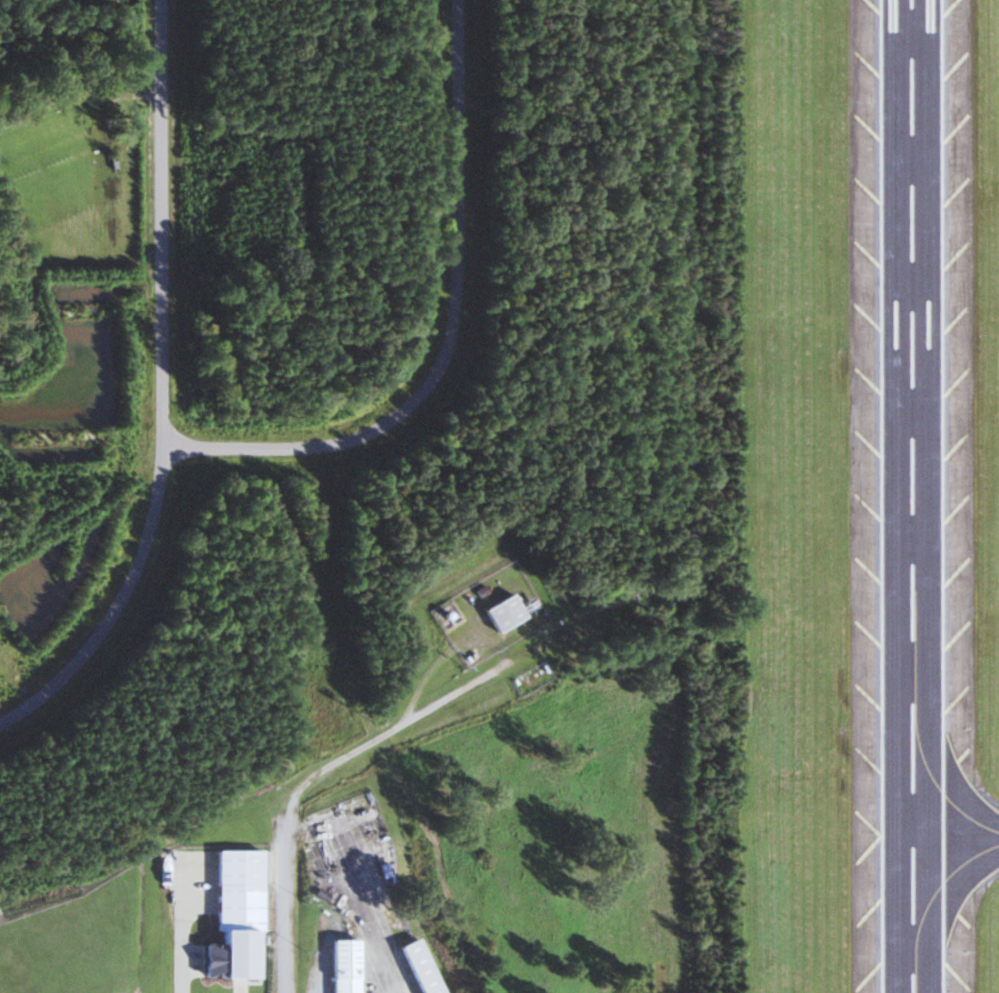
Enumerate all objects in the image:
airport runway: (911, 496)
airport: (803, 499)
building: (501, 613)
road: (394, 729)
airport taxiway: (955, 839)
road: (281, 898)
building: (234, 954)
building: (342, 966)
building: (416, 967)

